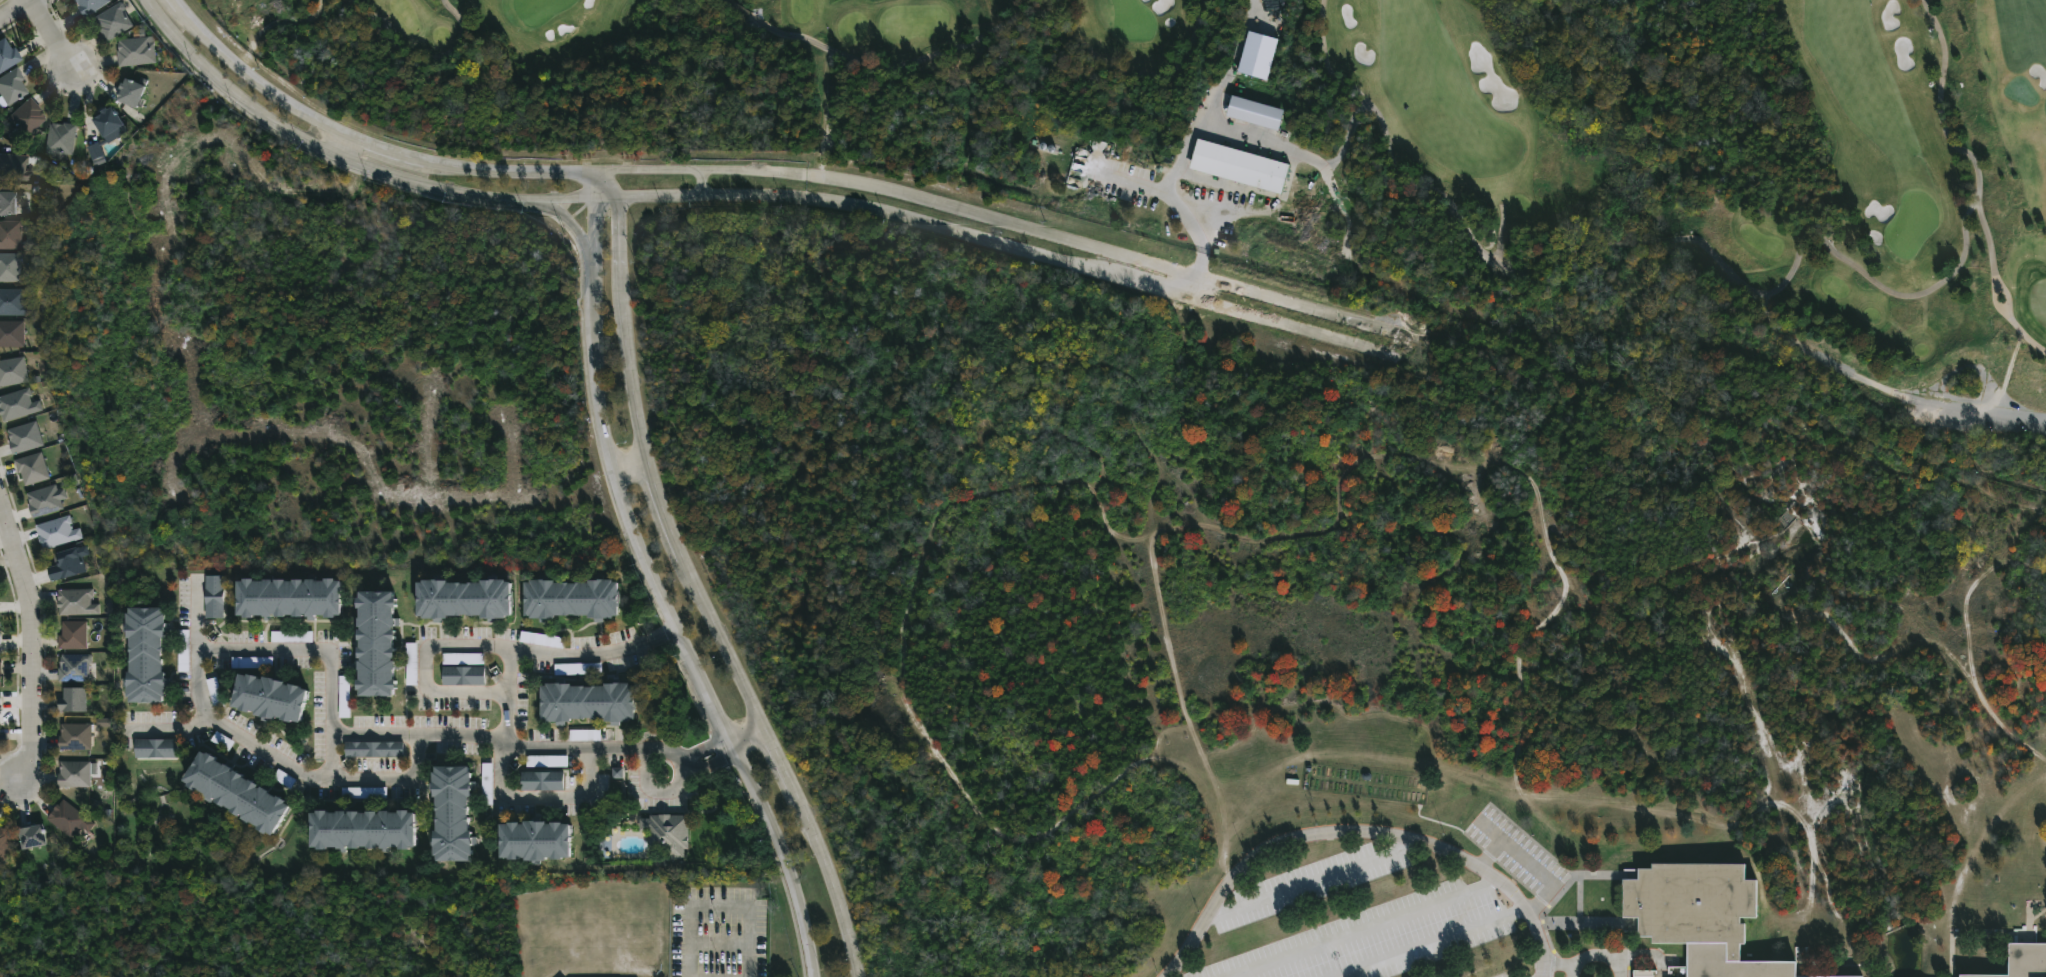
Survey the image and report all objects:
building: (89, 5)
park: (537, 9)
road: (16, 10)
park: (1133, 19)
building: (113, 20)
road: (51, 32)
road: (989, 33)
building: (135, 51)
building: (6, 54)
building: (1257, 56)
road: (423, 59)
building: (9, 86)
building: (130, 91)
park: (2022, 92)
road: (1212, 96)
building: (1254, 114)
building: (25, 115)
building: (107, 123)
park: (1509, 136)
building: (60, 138)
road: (308, 143)
road: (336, 145)
road: (368, 148)
building: (1101, 149)
road: (1301, 156)
building: (1240, 165)
building: (14, 167)
road: (701, 185)
road: (1173, 200)
building: (6, 202)
road: (595, 214)
road: (645, 221)
park: (1910, 223)
road: (559, 224)
road: (626, 224)
road: (1022, 227)
road: (1500, 231)
building: (9, 234)
road: (973, 235)
building: (9, 266)
road: (1732, 274)
road: (1195, 288)
building: (14, 302)
park: (2039, 302)
building: (11, 333)
building: (1831, 362)
building: (12, 371)
road: (1935, 391)
building: (17, 404)
building: (23, 437)
road: (1385, 455)
road: (633, 466)
building: (31, 468)
building: (44, 500)
building: (56, 532)
road: (1131, 540)
building: (66, 564)
building: (213, 596)
building: (287, 599)
building: (570, 599)
building: (462, 600)
building: (76, 602)
road: (678, 623)
road: (661, 629)
road: (726, 629)
road: (31, 634)
building: (72, 635)
road: (1963, 642)
road: (454, 643)
road: (899, 645)
building: (374, 646)
building: (143, 655)
road: (323, 655)
road: (580, 656)
building: (411, 665)
building: (74, 667)
building: (0, 670)
building: (462, 675)
road: (1175, 689)
building: (214, 694)
building: (266, 696)
building: (70, 699)
building: (1, 701)
building: (587, 702)
road: (170, 729)
road: (754, 732)
road: (380, 735)
building: (74, 736)
building: (155, 747)
building: (373, 748)
road: (684, 758)
building: (73, 772)
building: (541, 779)
road: (355, 780)
building: (1331, 788)
building: (233, 790)
road: (659, 793)
building: (1392, 794)
road: (543, 795)
building: (451, 811)
building: (68, 818)
building: (360, 827)
building: (667, 832)
road: (1360, 832)
building: (30, 835)
building: (533, 838)
building: (3, 839)
road: (1490, 855)
parking lot: (1520, 858)
road: (1529, 866)
road: (1602, 874)
road: (1317, 880)
road: (1579, 900)
road: (720, 907)
building: (1699, 915)
parking lot: (1366, 923)
road: (1585, 926)
road: (1365, 931)
road: (720, 943)
road: (1429, 943)
road: (1596, 956)
building: (2024, 960)
road: (1558, 964)

